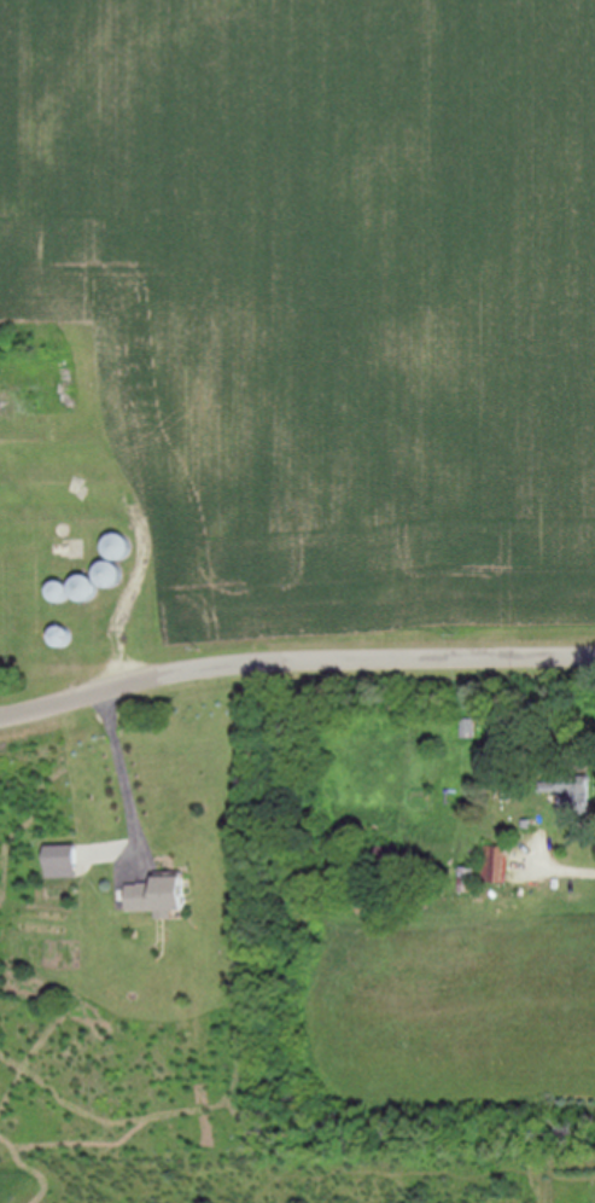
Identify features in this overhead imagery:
crop: (320, 306)
road: (130, 610)
road: (293, 656)
road: (121, 774)
road: (564, 865)

